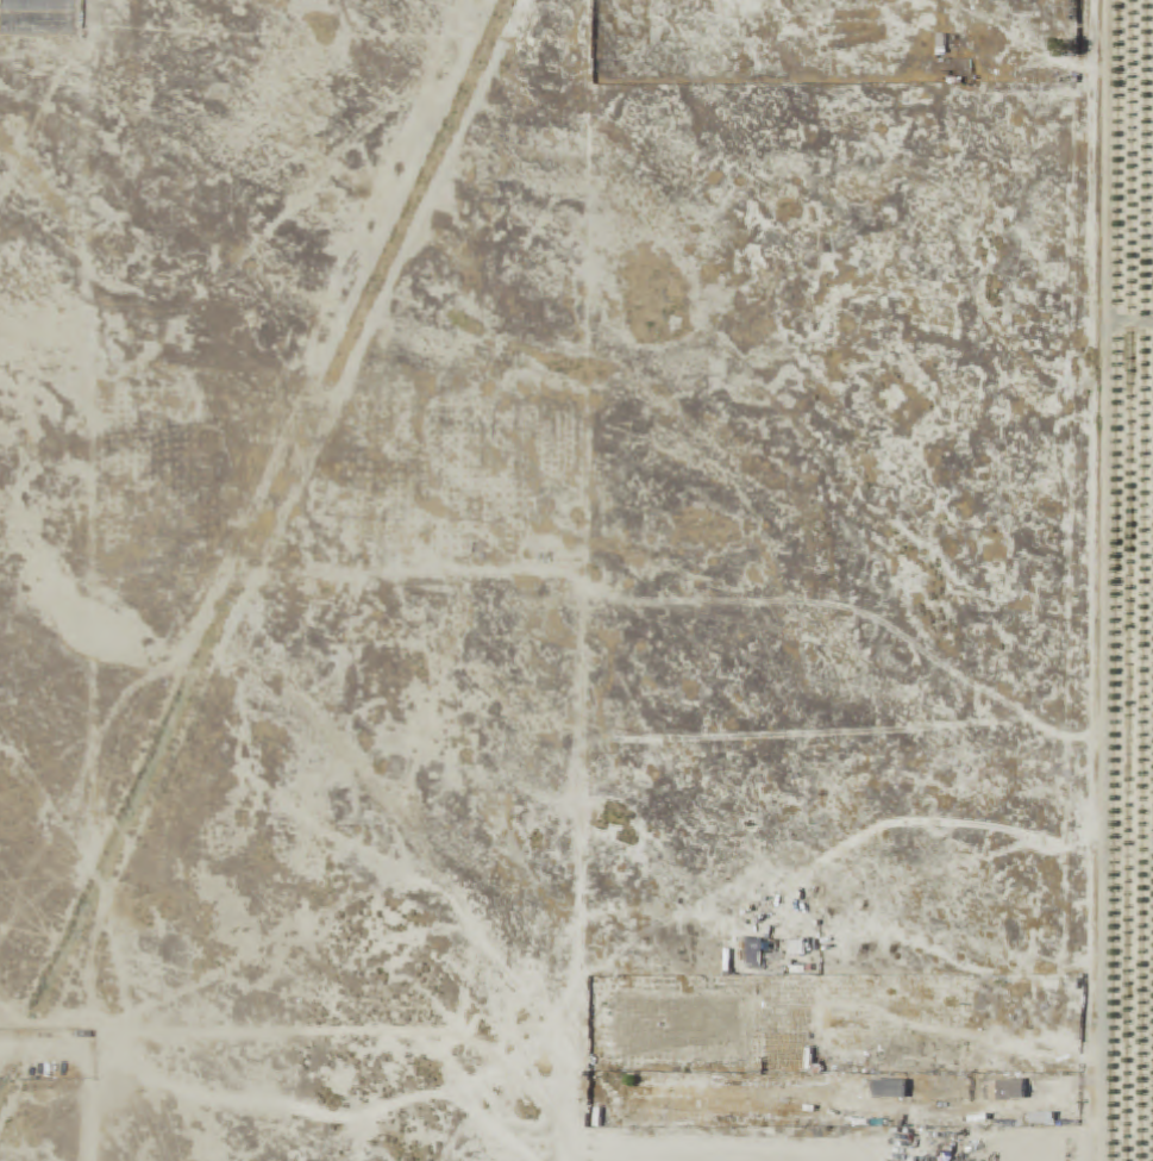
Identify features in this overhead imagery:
road: (1128, 327)
road: (1103, 580)
building: (890, 1090)

